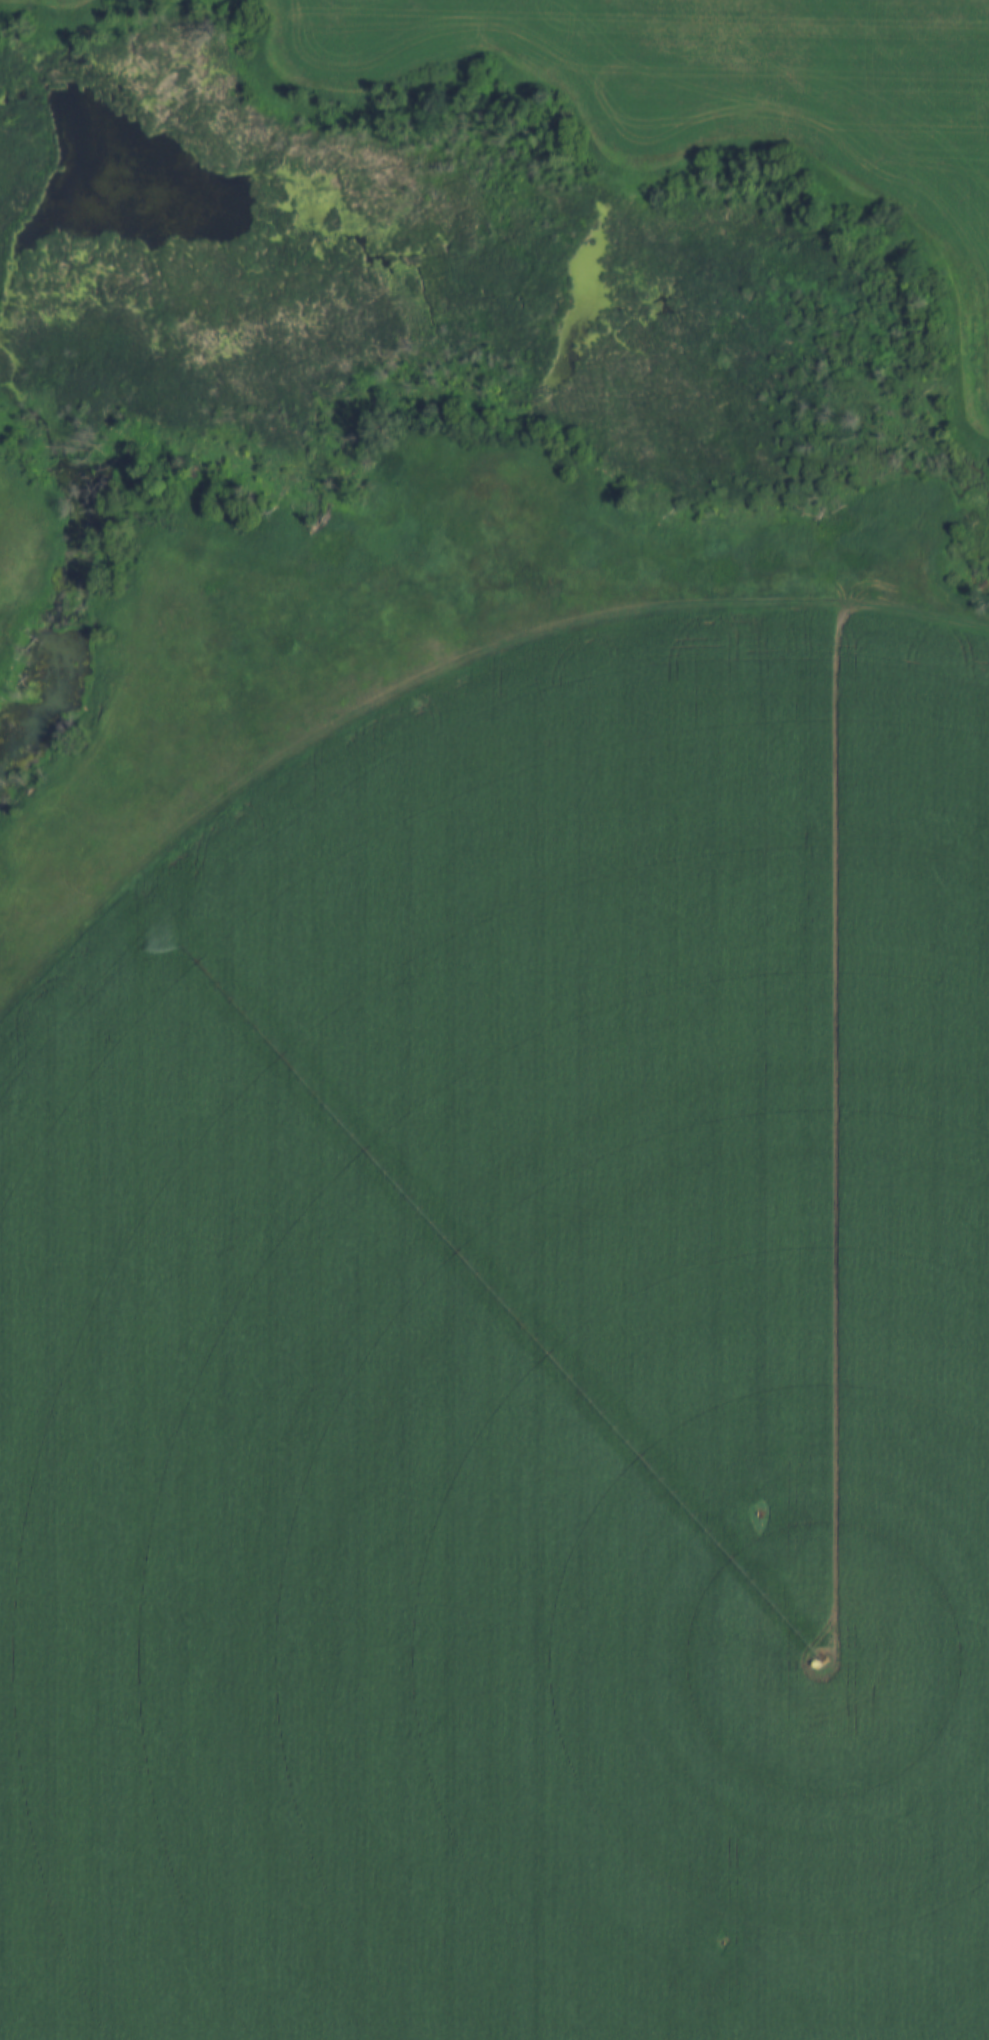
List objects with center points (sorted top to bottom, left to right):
road: (441, 671)

